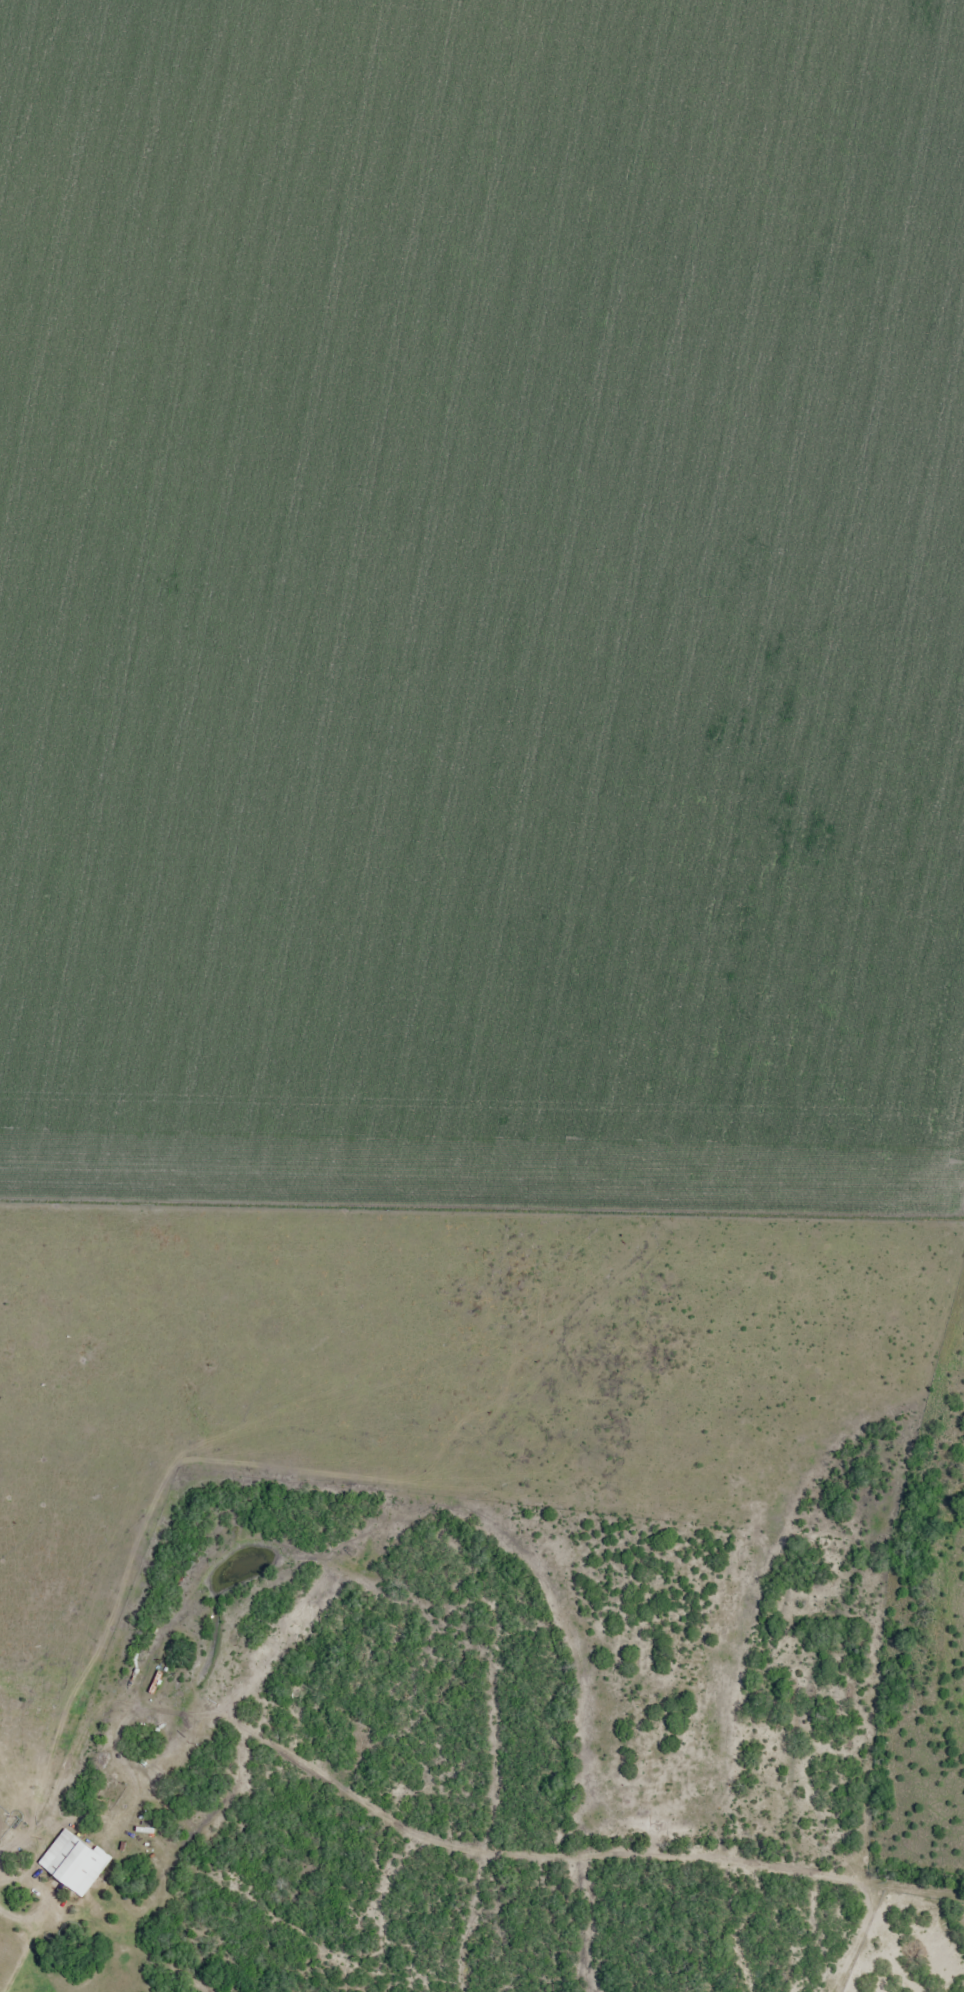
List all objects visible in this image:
building: (65, 1864)

